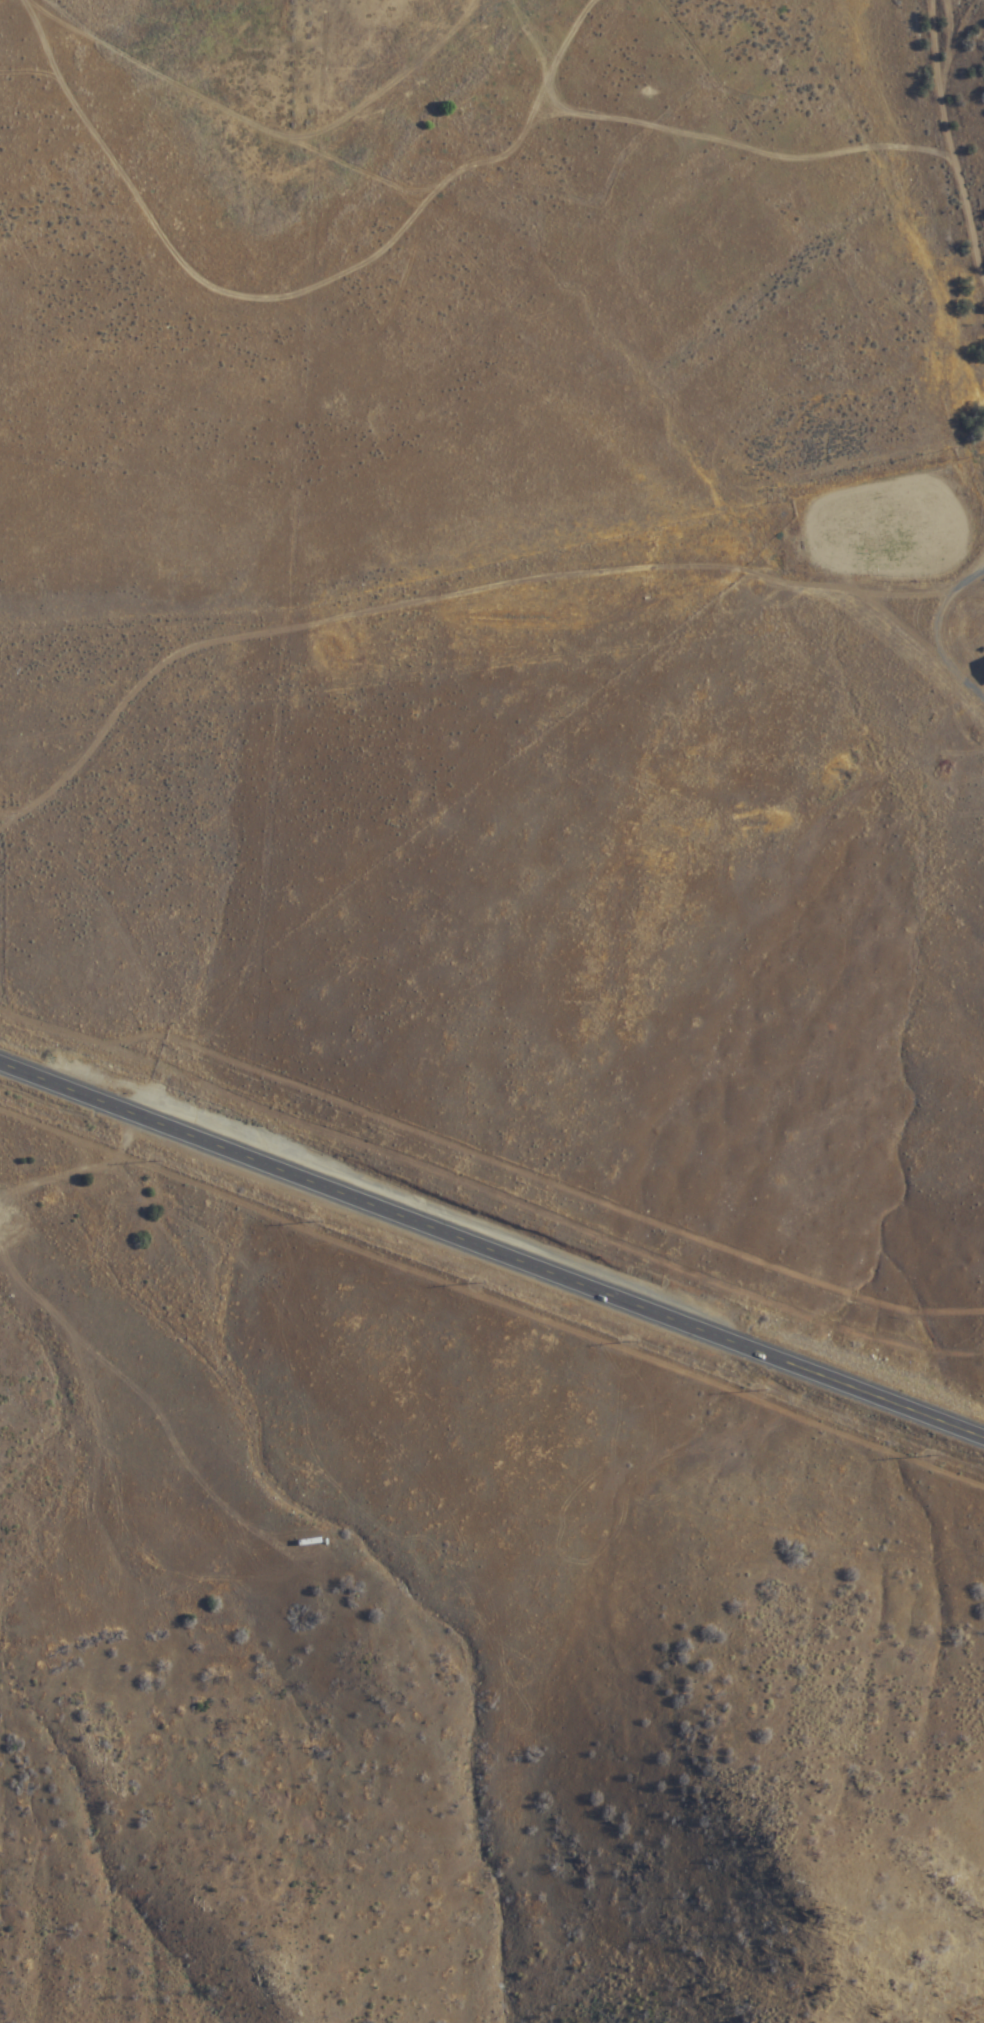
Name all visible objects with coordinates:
road: (952, 139)
road: (492, 1250)

